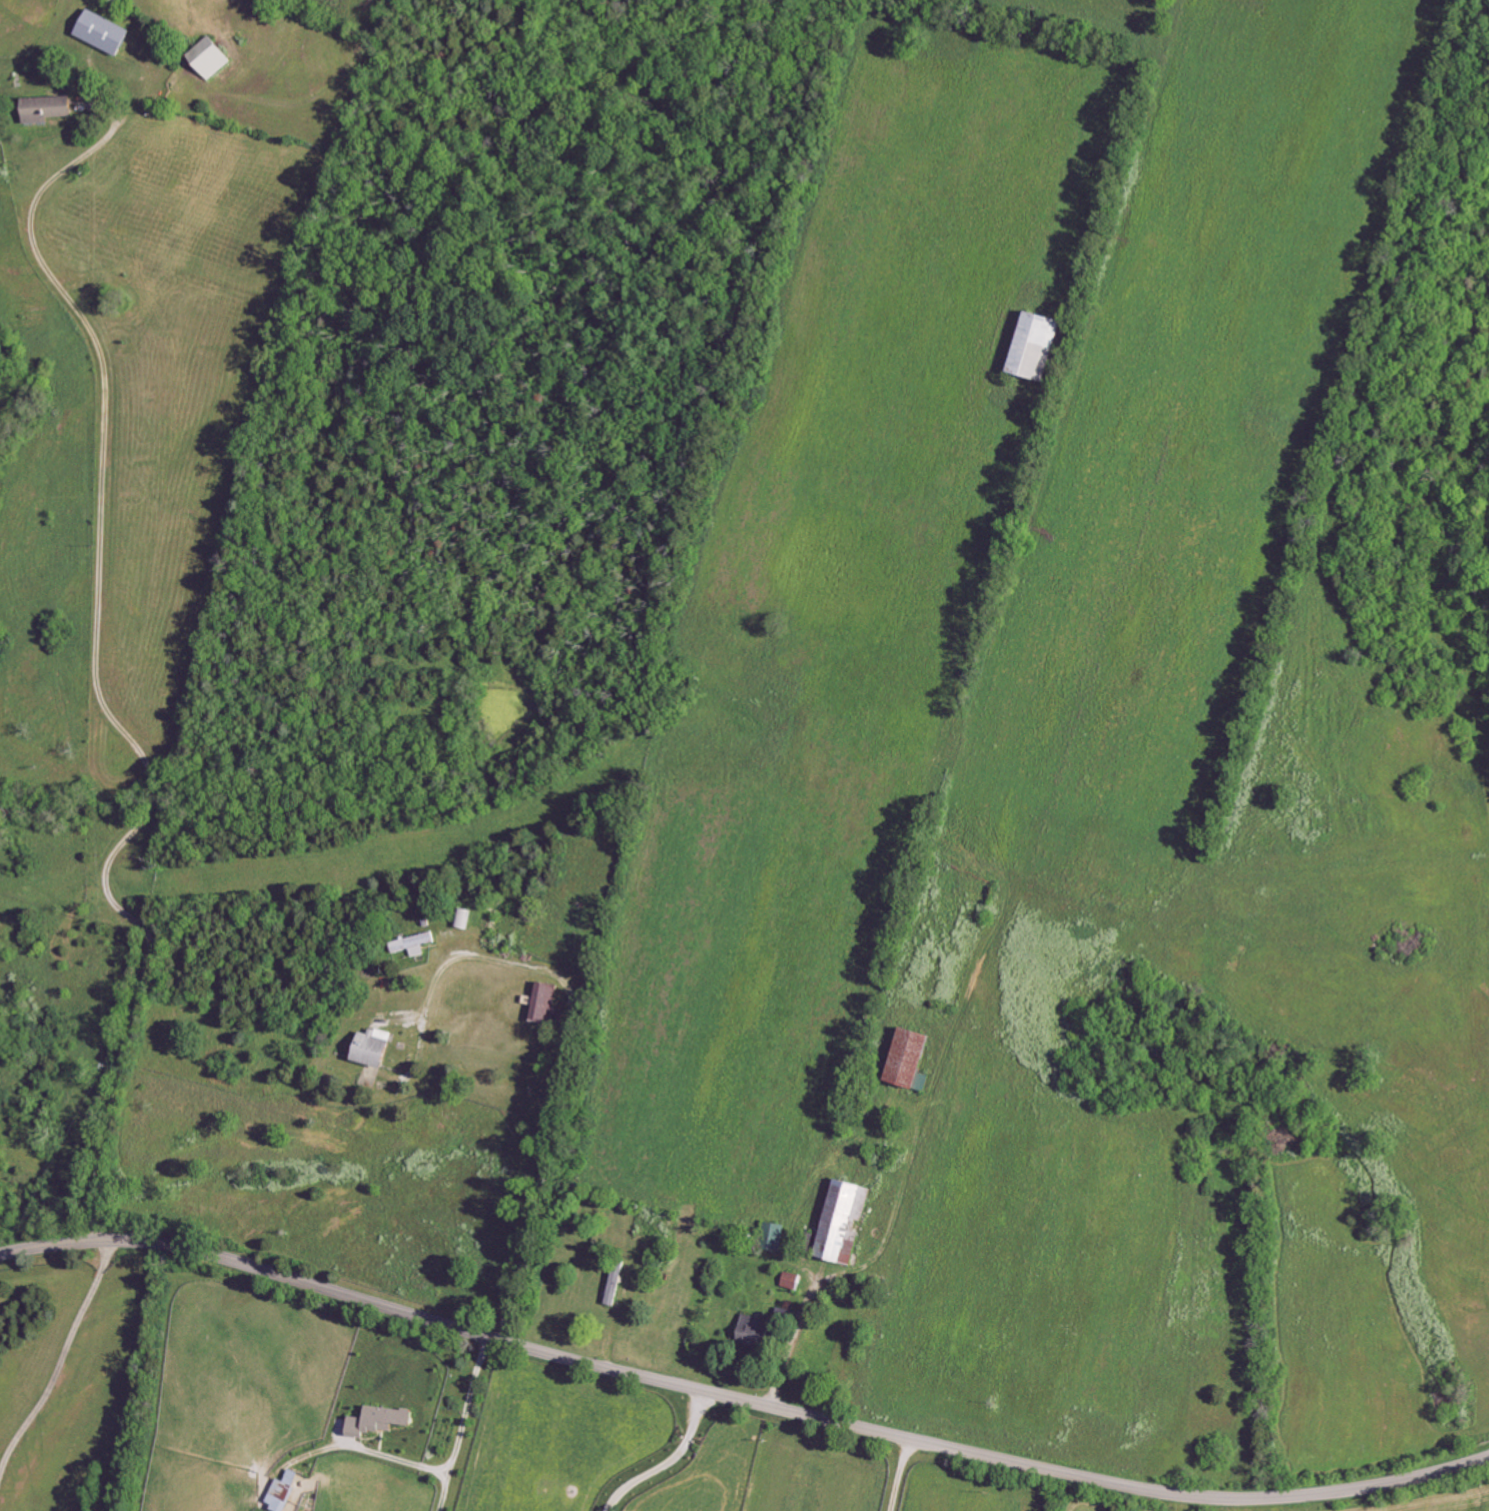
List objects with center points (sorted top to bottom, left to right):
building: (106, 33)
building: (212, 58)
building: (48, 109)
building: (1040, 347)
road: (95, 655)
building: (416, 946)
building: (549, 1006)
building: (376, 1049)
building: (914, 1062)
road: (561, 1072)
building: (848, 1222)
building: (775, 1237)
road: (854, 1268)
building: (794, 1281)
building: (616, 1285)
building: (758, 1332)
road: (62, 1364)
road: (740, 1403)
building: (381, 1421)
road: (463, 1425)
road: (368, 1451)
road: (668, 1463)
road: (900, 1474)
building: (287, 1494)

